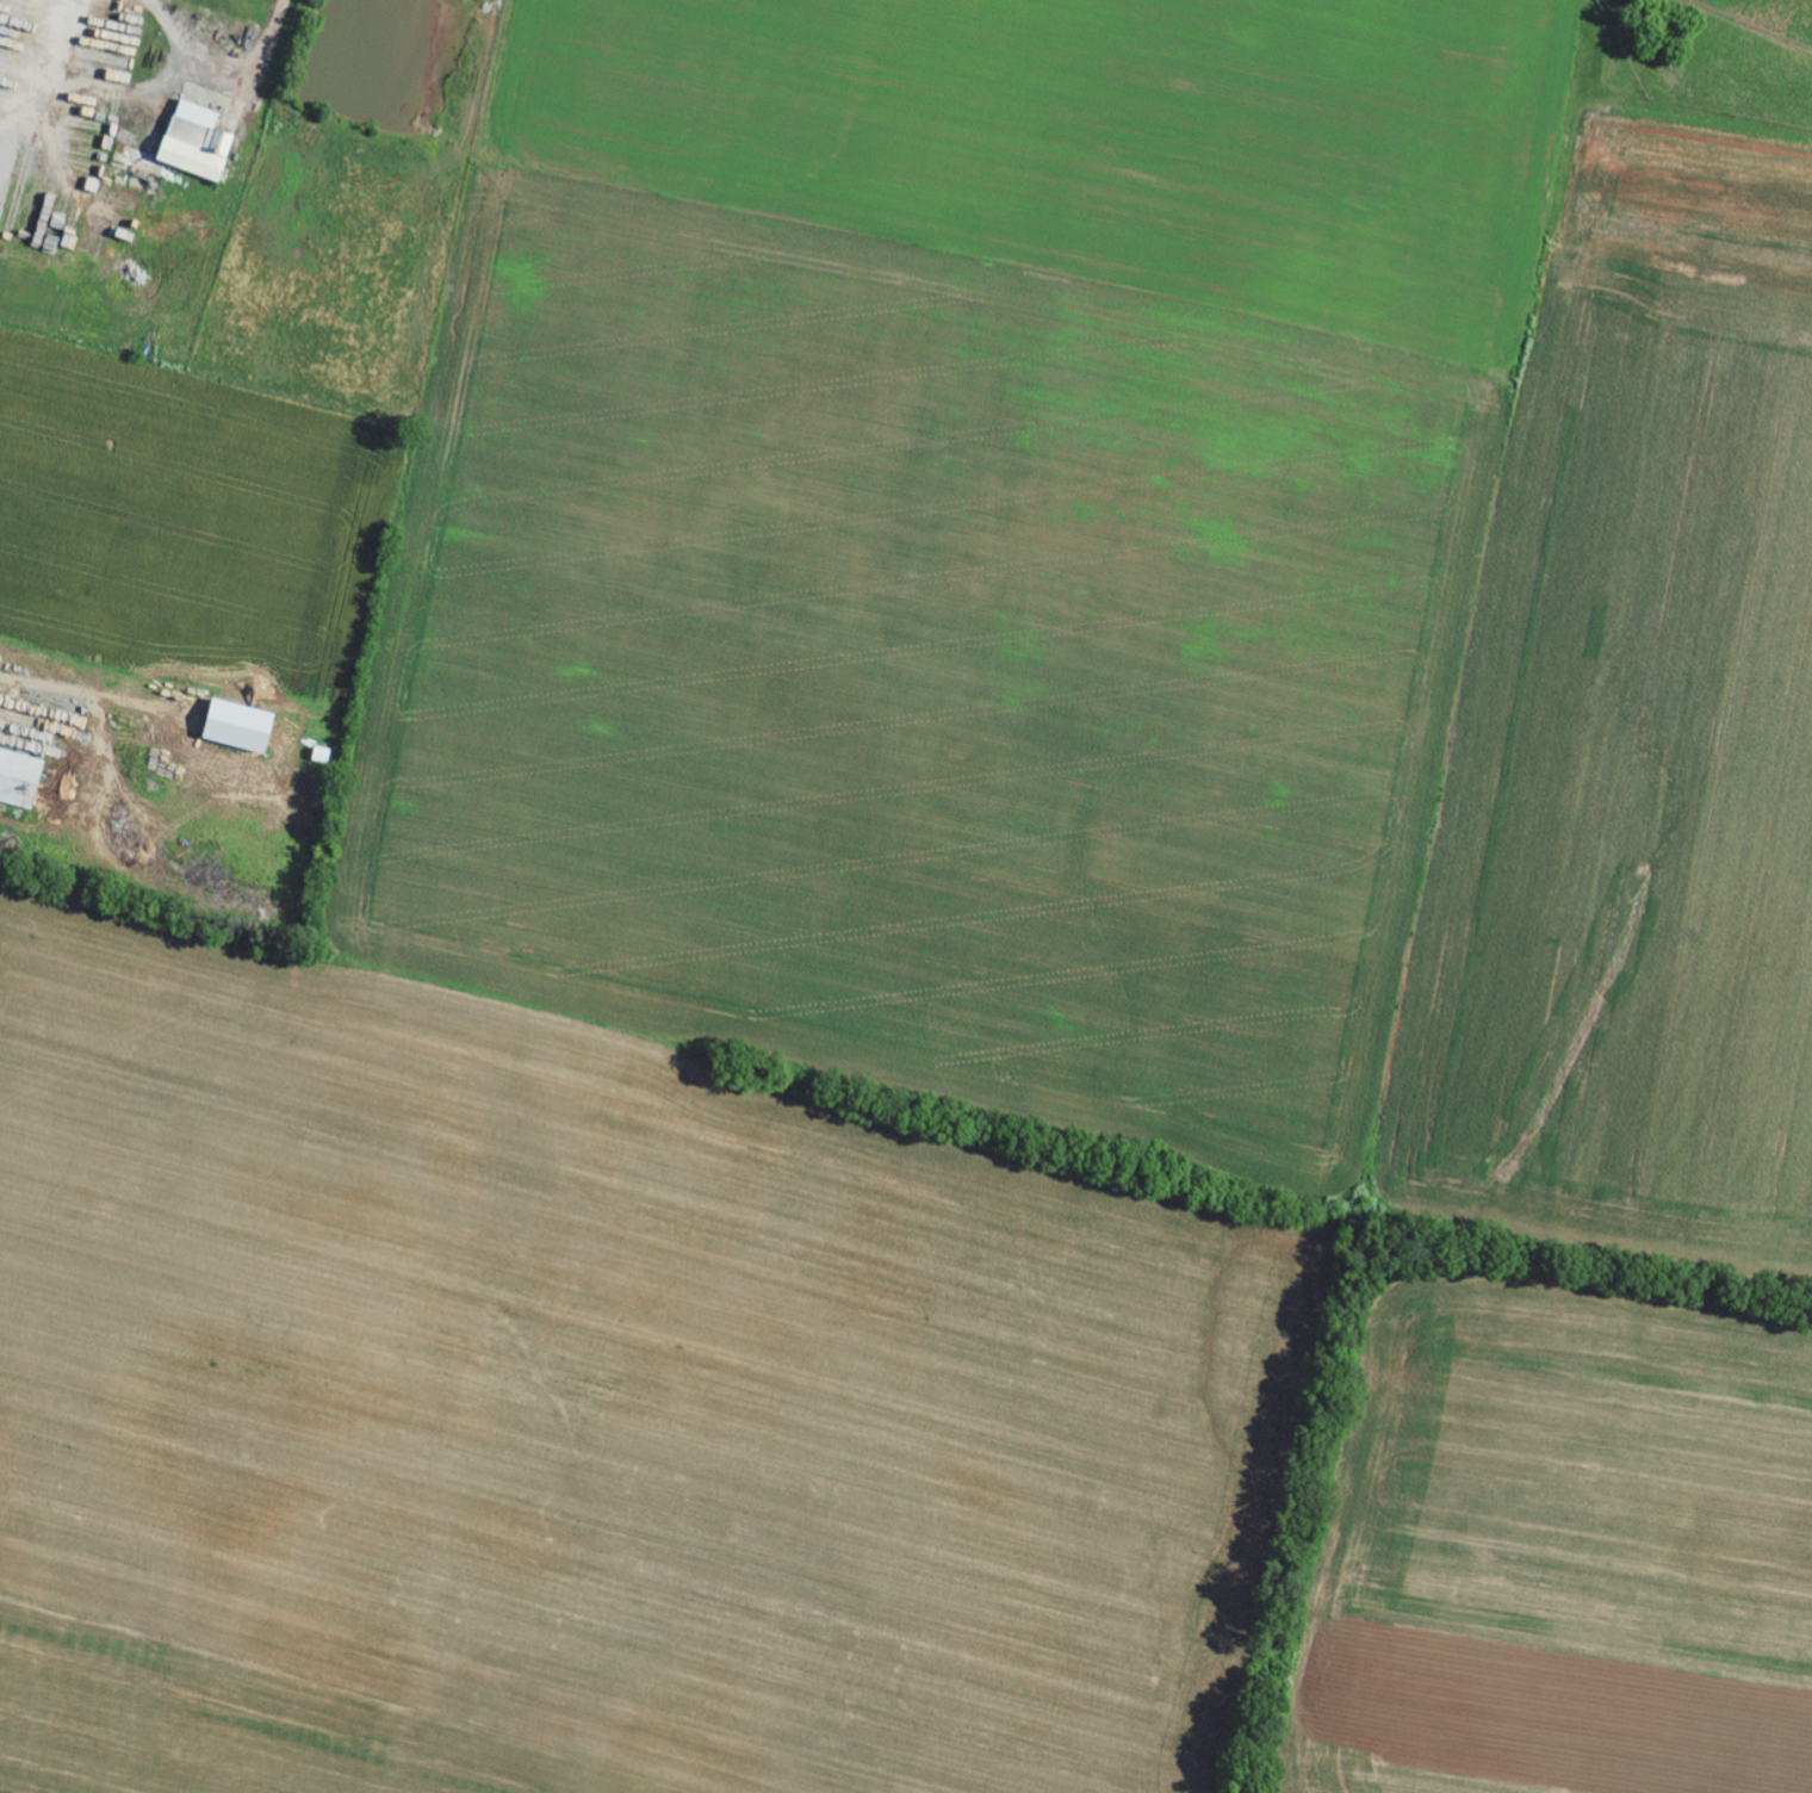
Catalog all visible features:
building: (193, 142)
building: (19, 768)

